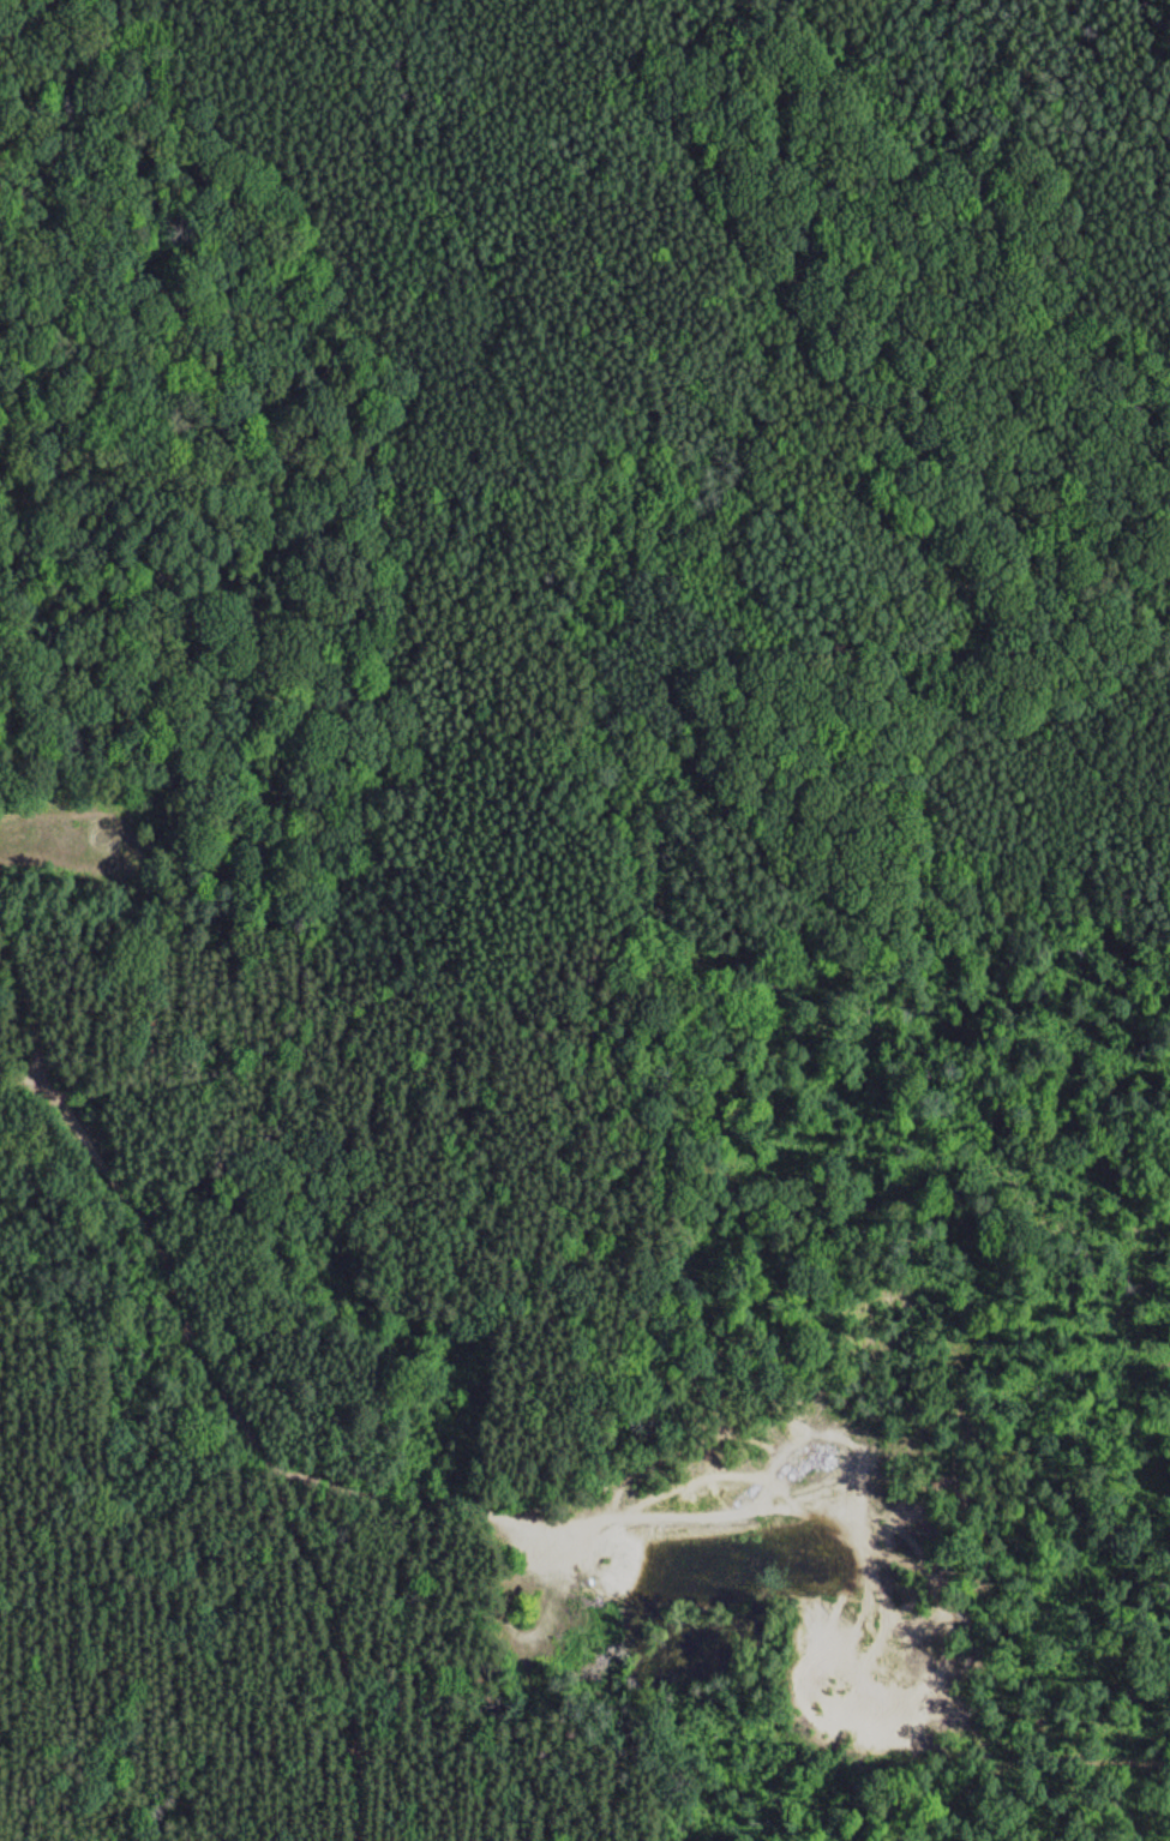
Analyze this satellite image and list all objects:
road: (235, 667)
road: (23, 1081)
road: (222, 1385)
quarry: (816, 1548)
road: (43, 1552)
road: (1030, 1764)

